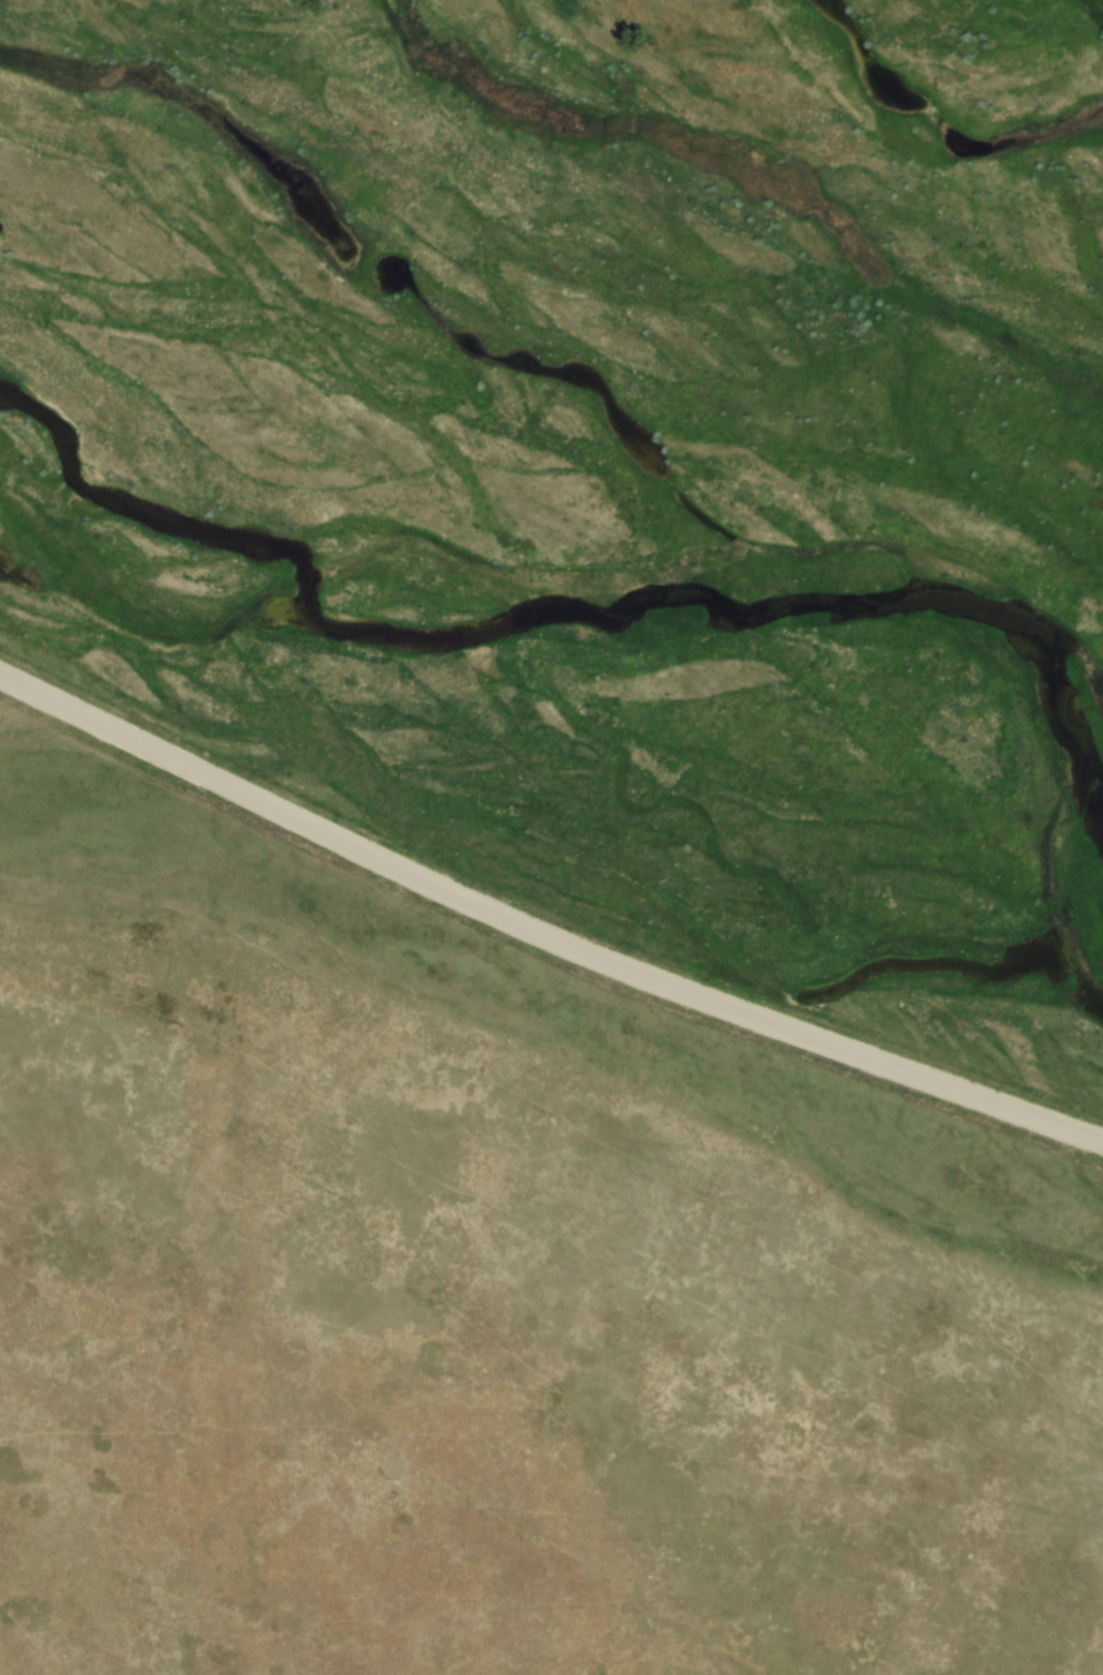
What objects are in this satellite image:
road: (540, 942)

